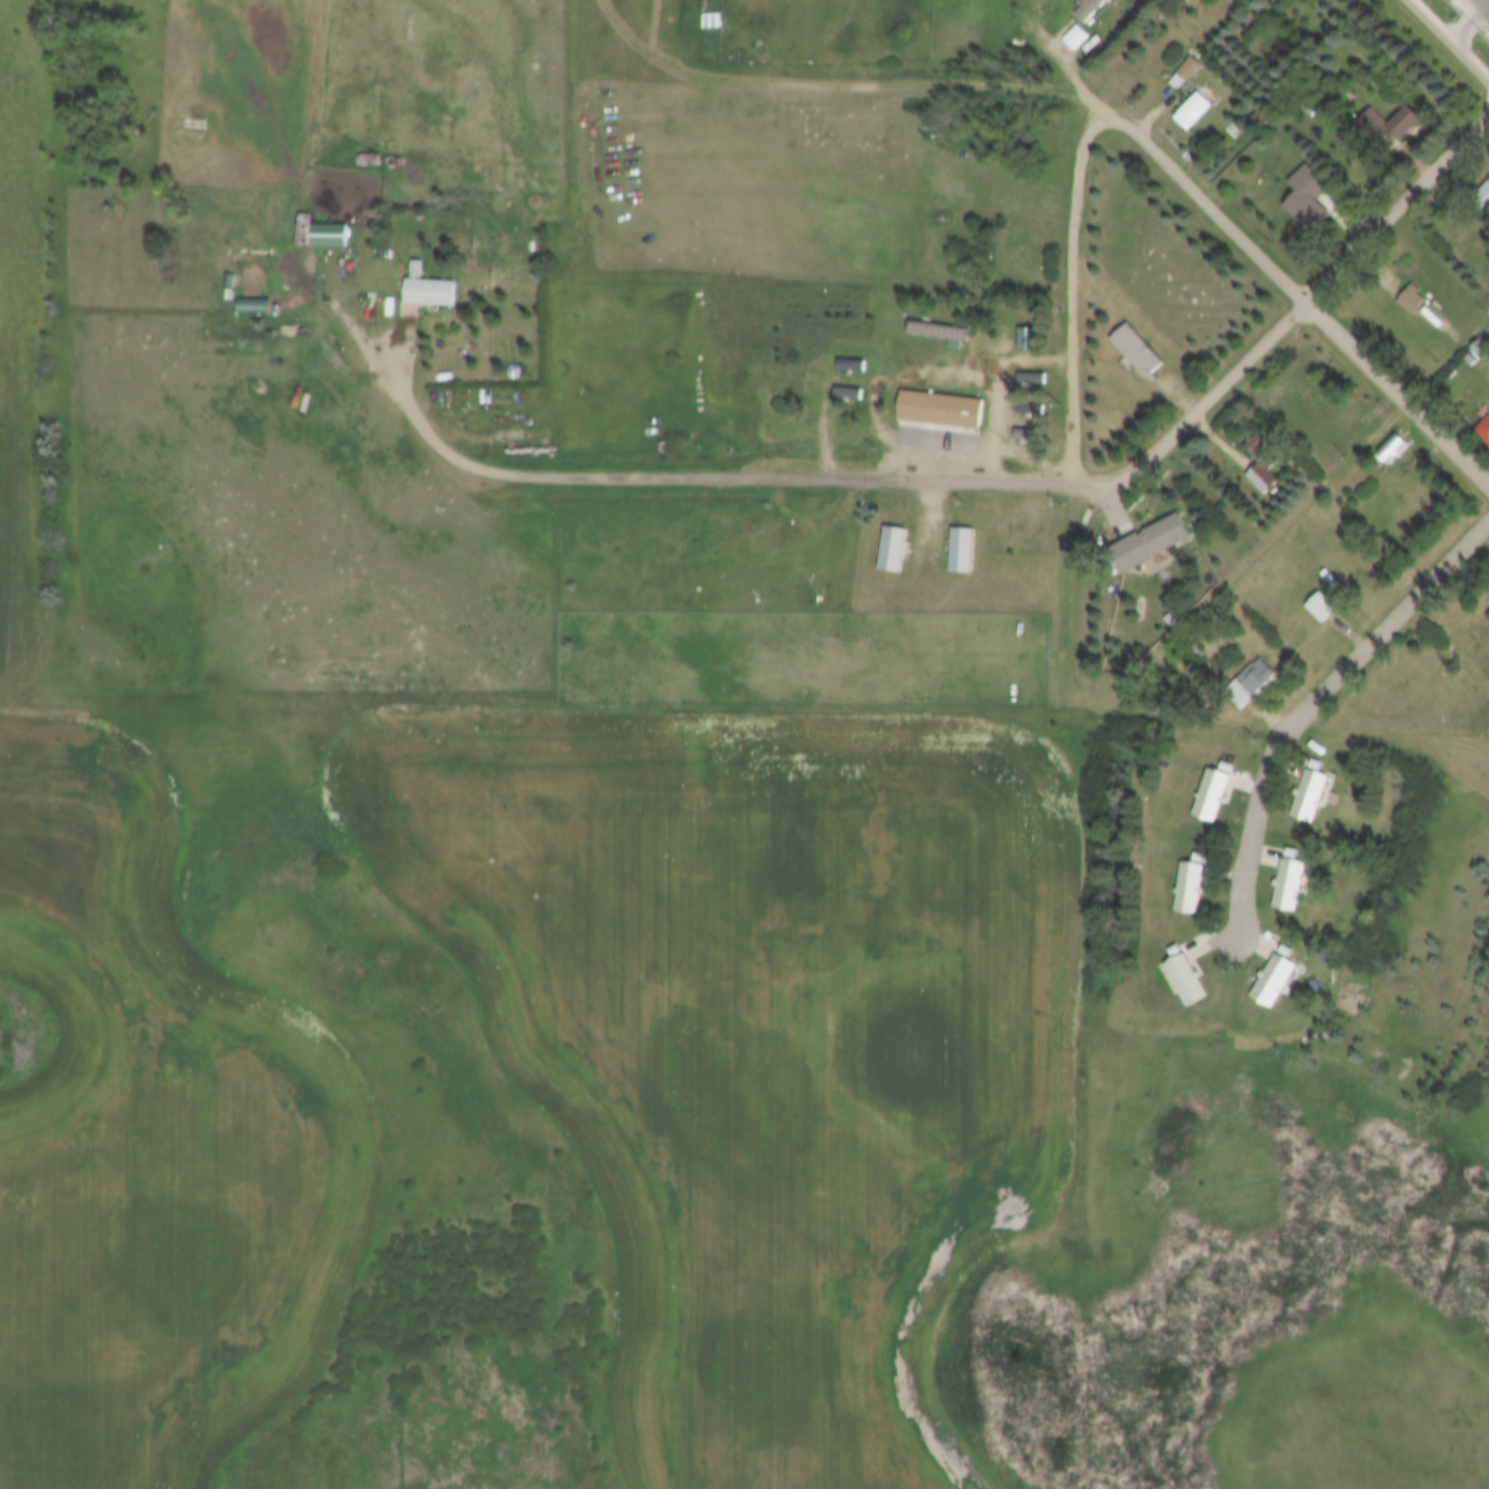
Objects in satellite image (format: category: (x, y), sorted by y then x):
building: (1092, 9)
building: (714, 22)
road: (1454, 34)
building: (1355, 66)
building: (1187, 74)
road: (838, 87)
building: (1310, 108)
building: (1195, 112)
building: (1374, 121)
building: (1407, 122)
building: (369, 161)
building: (393, 163)
building: (1310, 200)
building: (322, 235)
road: (1079, 285)
building: (431, 290)
building: (229, 296)
road: (1310, 297)
building: (1413, 301)
building: (255, 309)
road: (1293, 315)
building: (943, 333)
building: (1027, 340)
building: (1139, 352)
building: (1481, 352)
building: (853, 366)
building: (1032, 383)
building: (849, 395)
building: (943, 411)
building: (1030, 411)
building: (1485, 431)
building: (1026, 435)
building: (1259, 448)
building: (1394, 448)
road: (713, 474)
building: (1264, 481)
building: (1155, 542)
building: (896, 550)
building: (964, 551)
building: (1322, 608)
building: (1488, 617)
building: (1257, 679)
road: (1317, 709)
building: (1313, 793)
building: (1214, 796)
building: (1292, 885)
building: (1192, 888)
building: (1357, 923)
building: (1190, 980)
building: (1276, 982)

